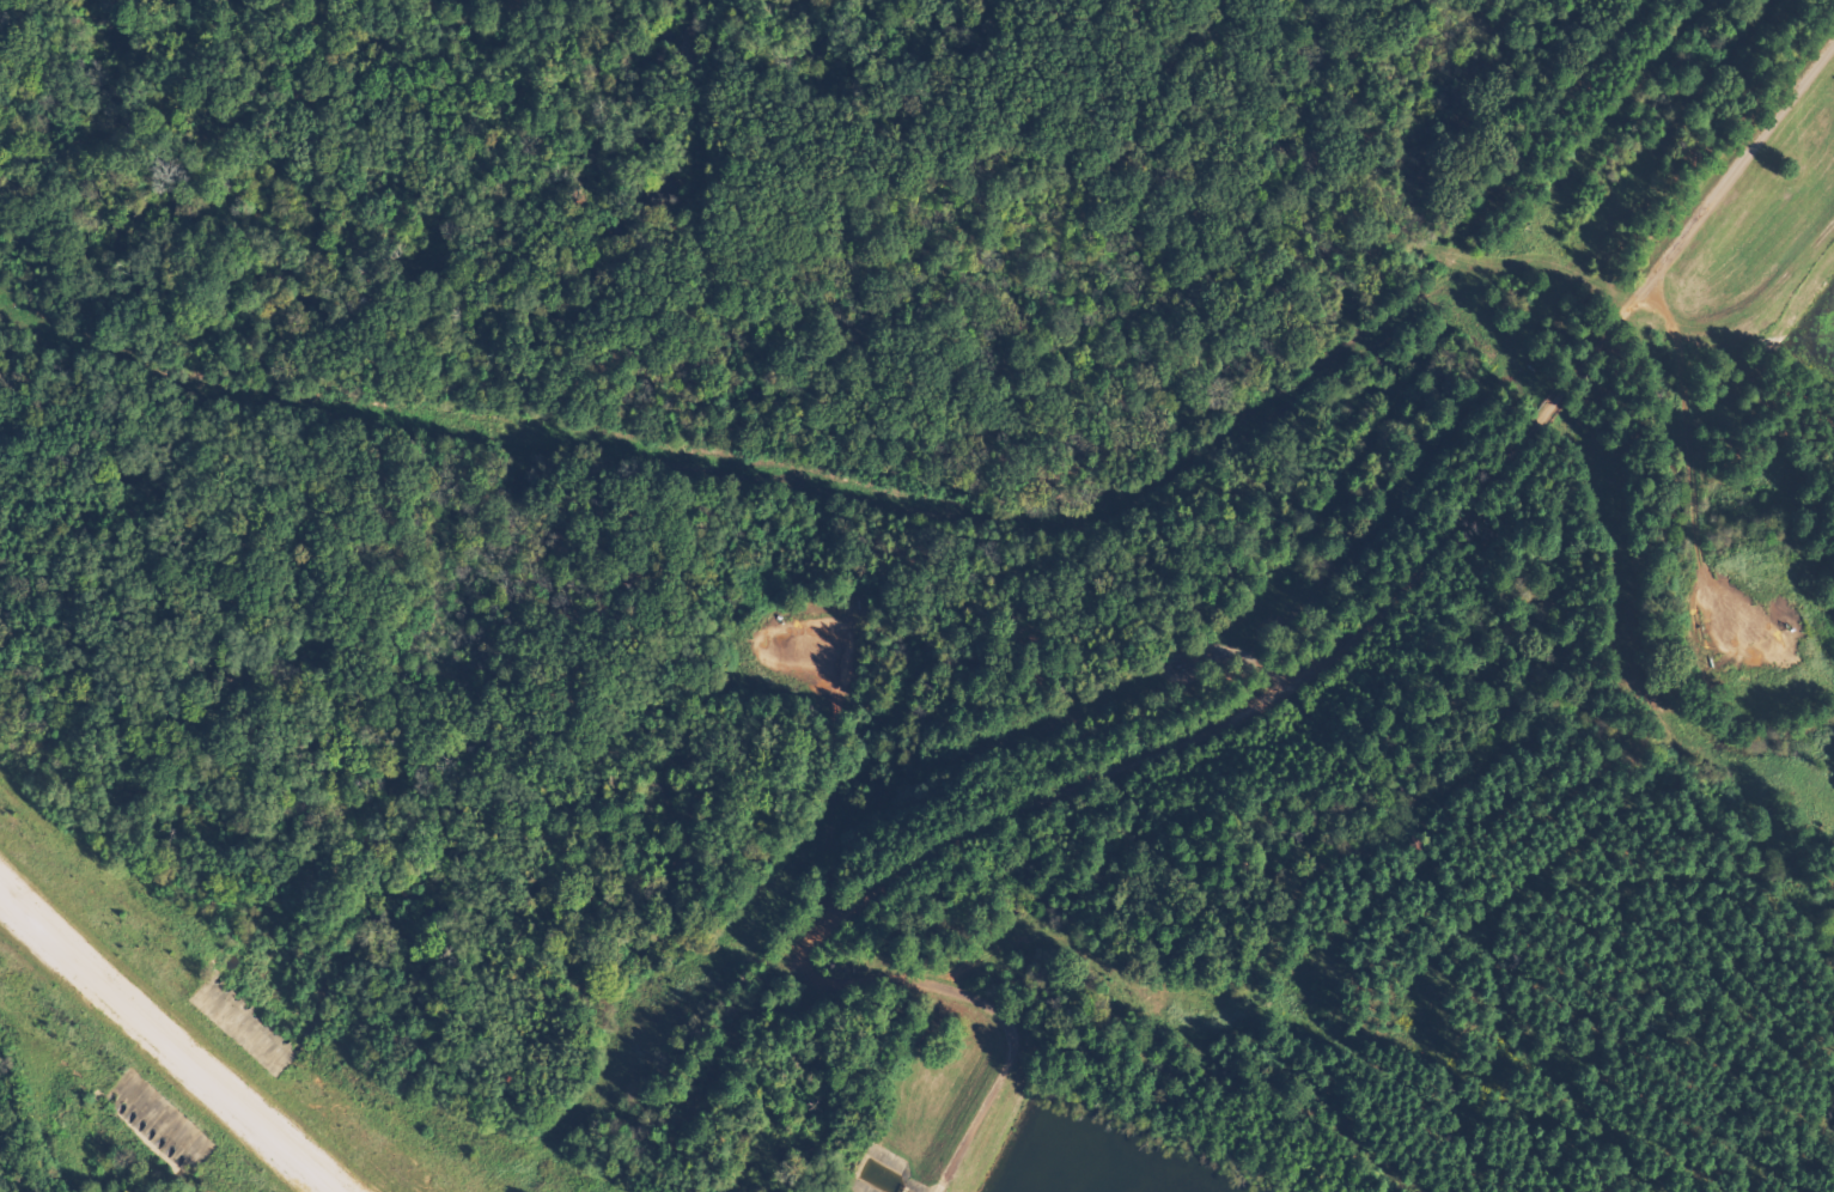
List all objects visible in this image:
road: (171, 1039)

